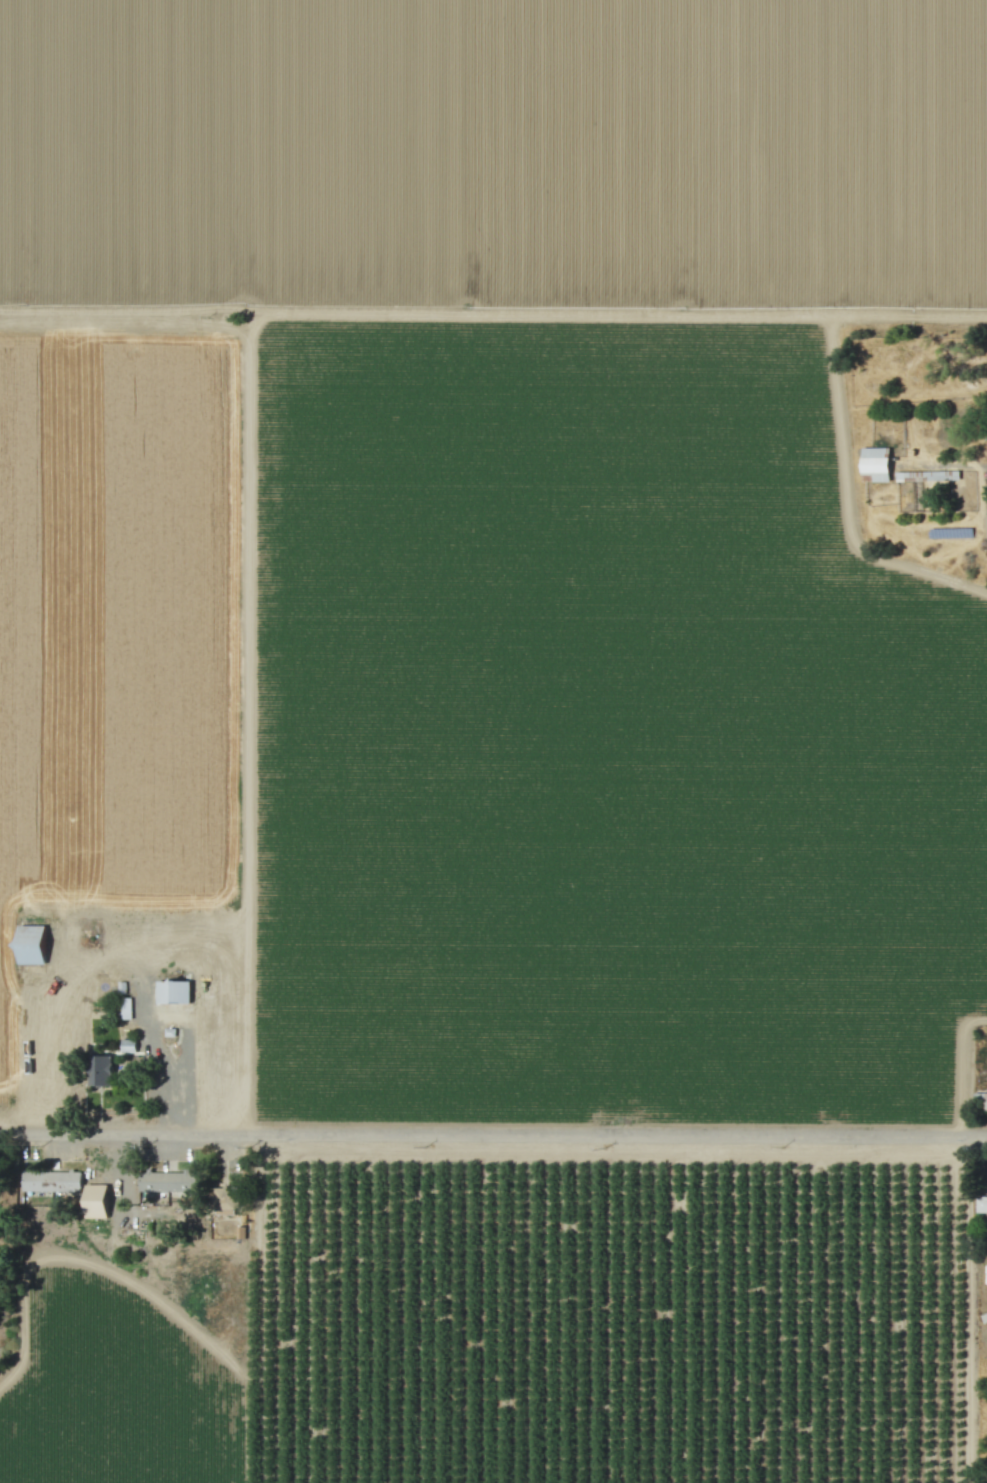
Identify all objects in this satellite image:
road: (838, 423)
building: (874, 465)
building: (34, 945)
building: (172, 992)
building: (128, 1046)
building: (107, 1071)
road: (183, 1081)
road: (493, 1141)
building: (166, 1186)
building: (100, 1201)
building: (224, 1201)
building: (981, 1205)

